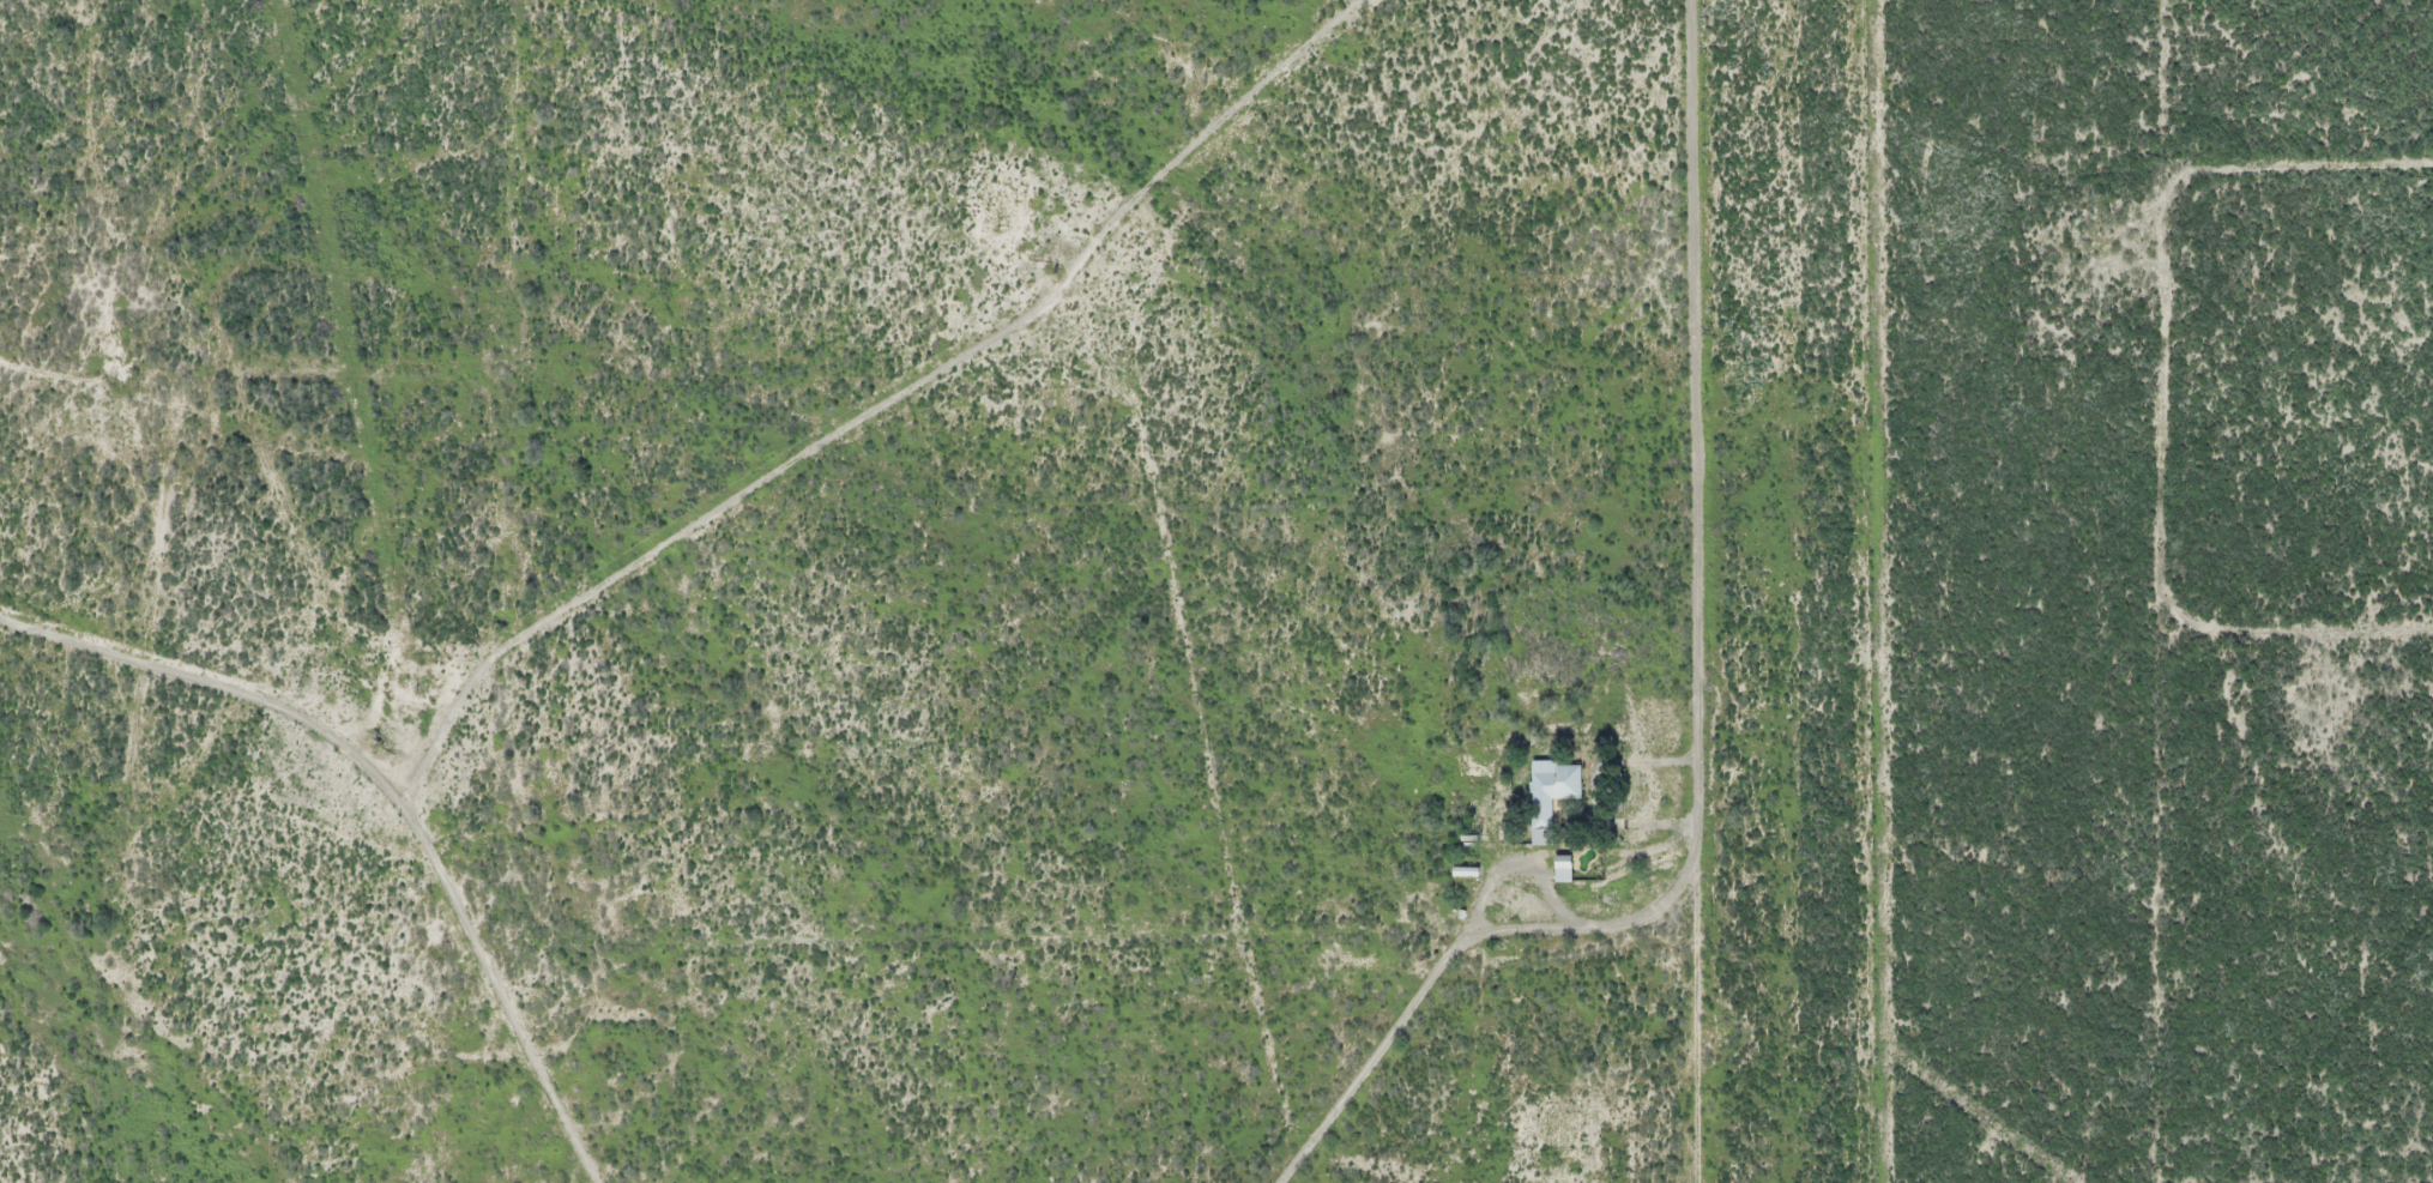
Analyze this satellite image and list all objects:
road: (1694, 416)
building: (1551, 795)
building: (1565, 868)

